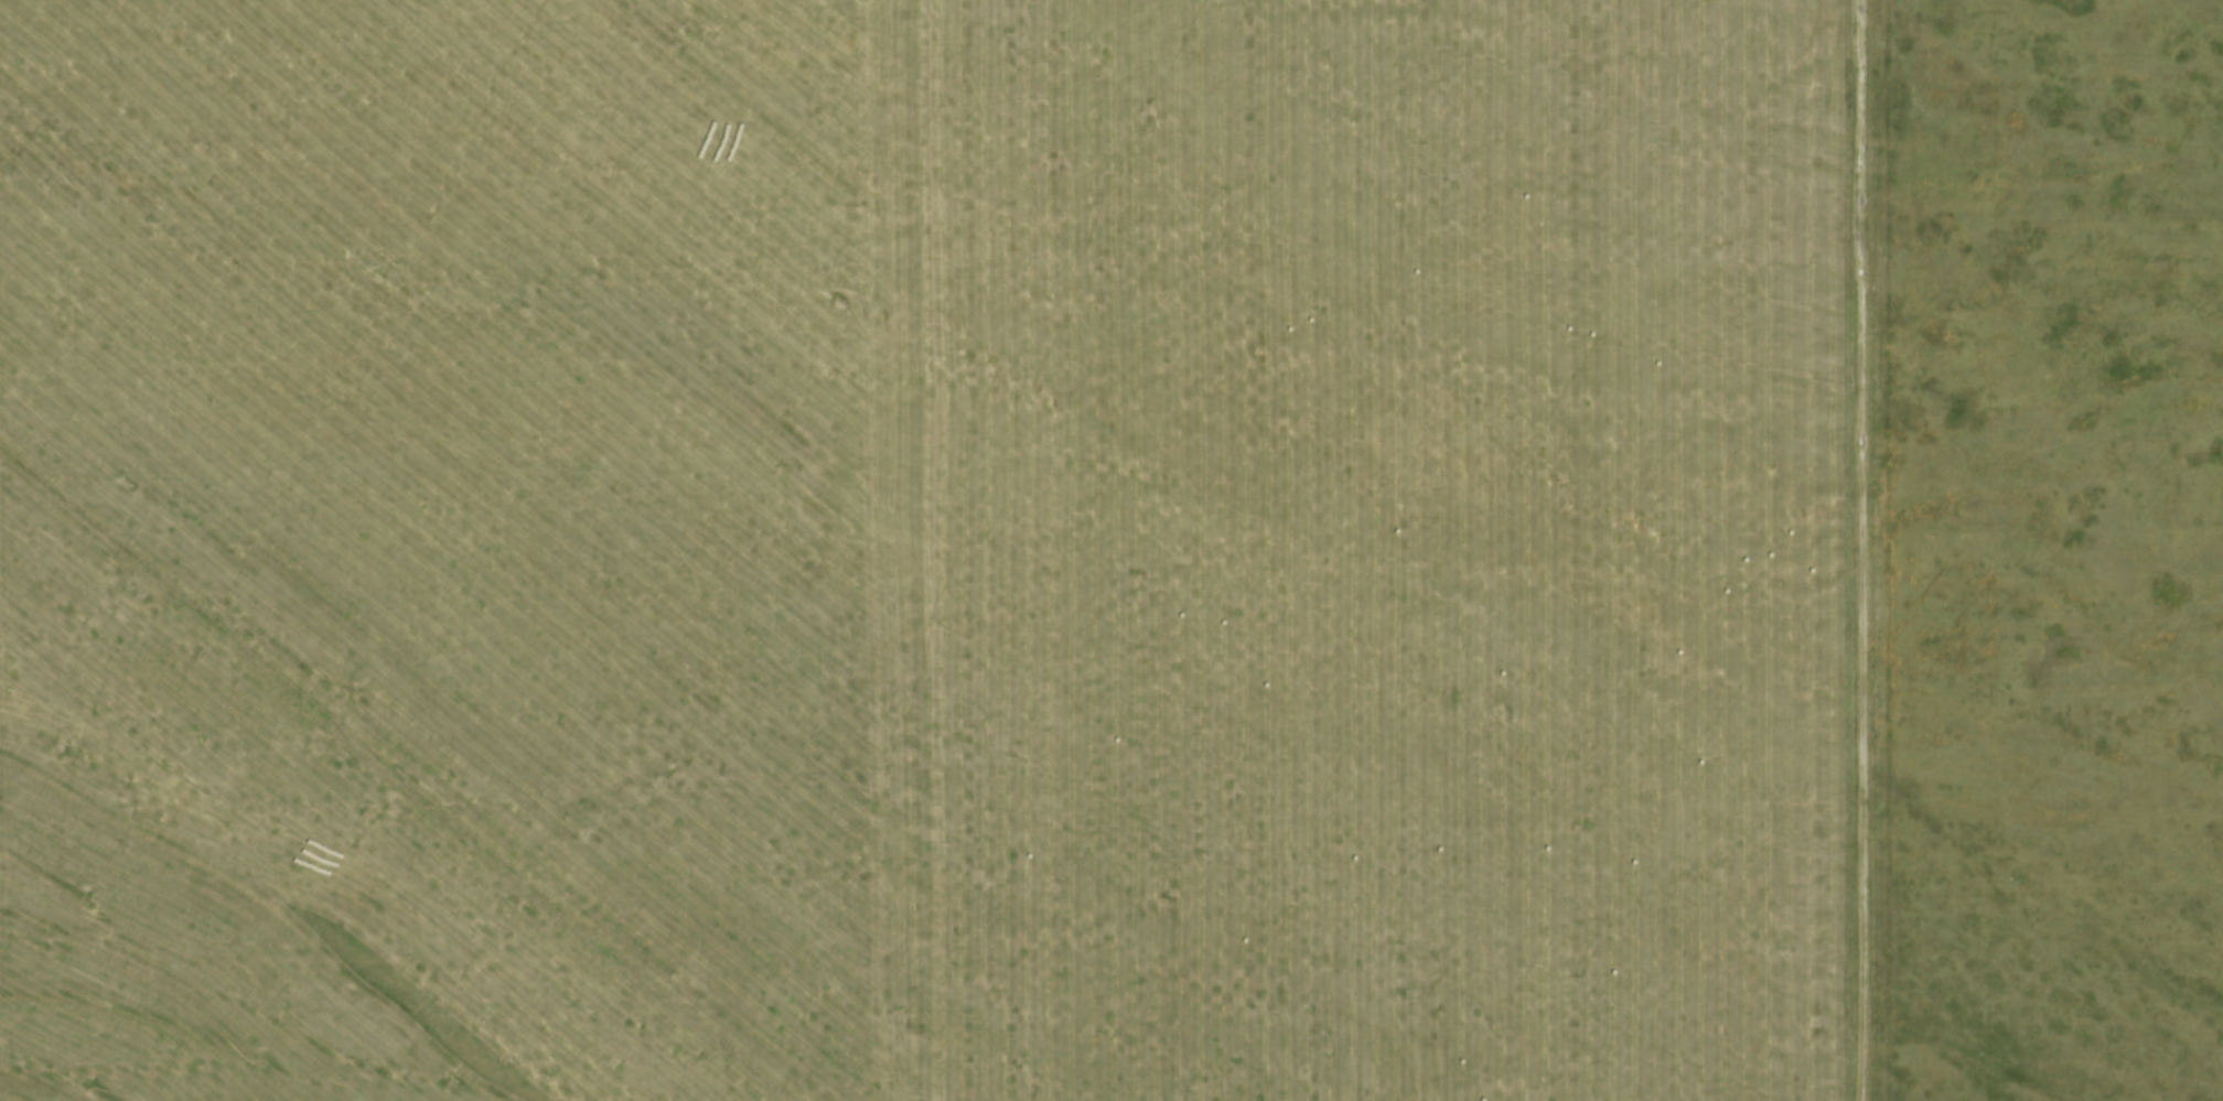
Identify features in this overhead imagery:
road: (1867, 550)

